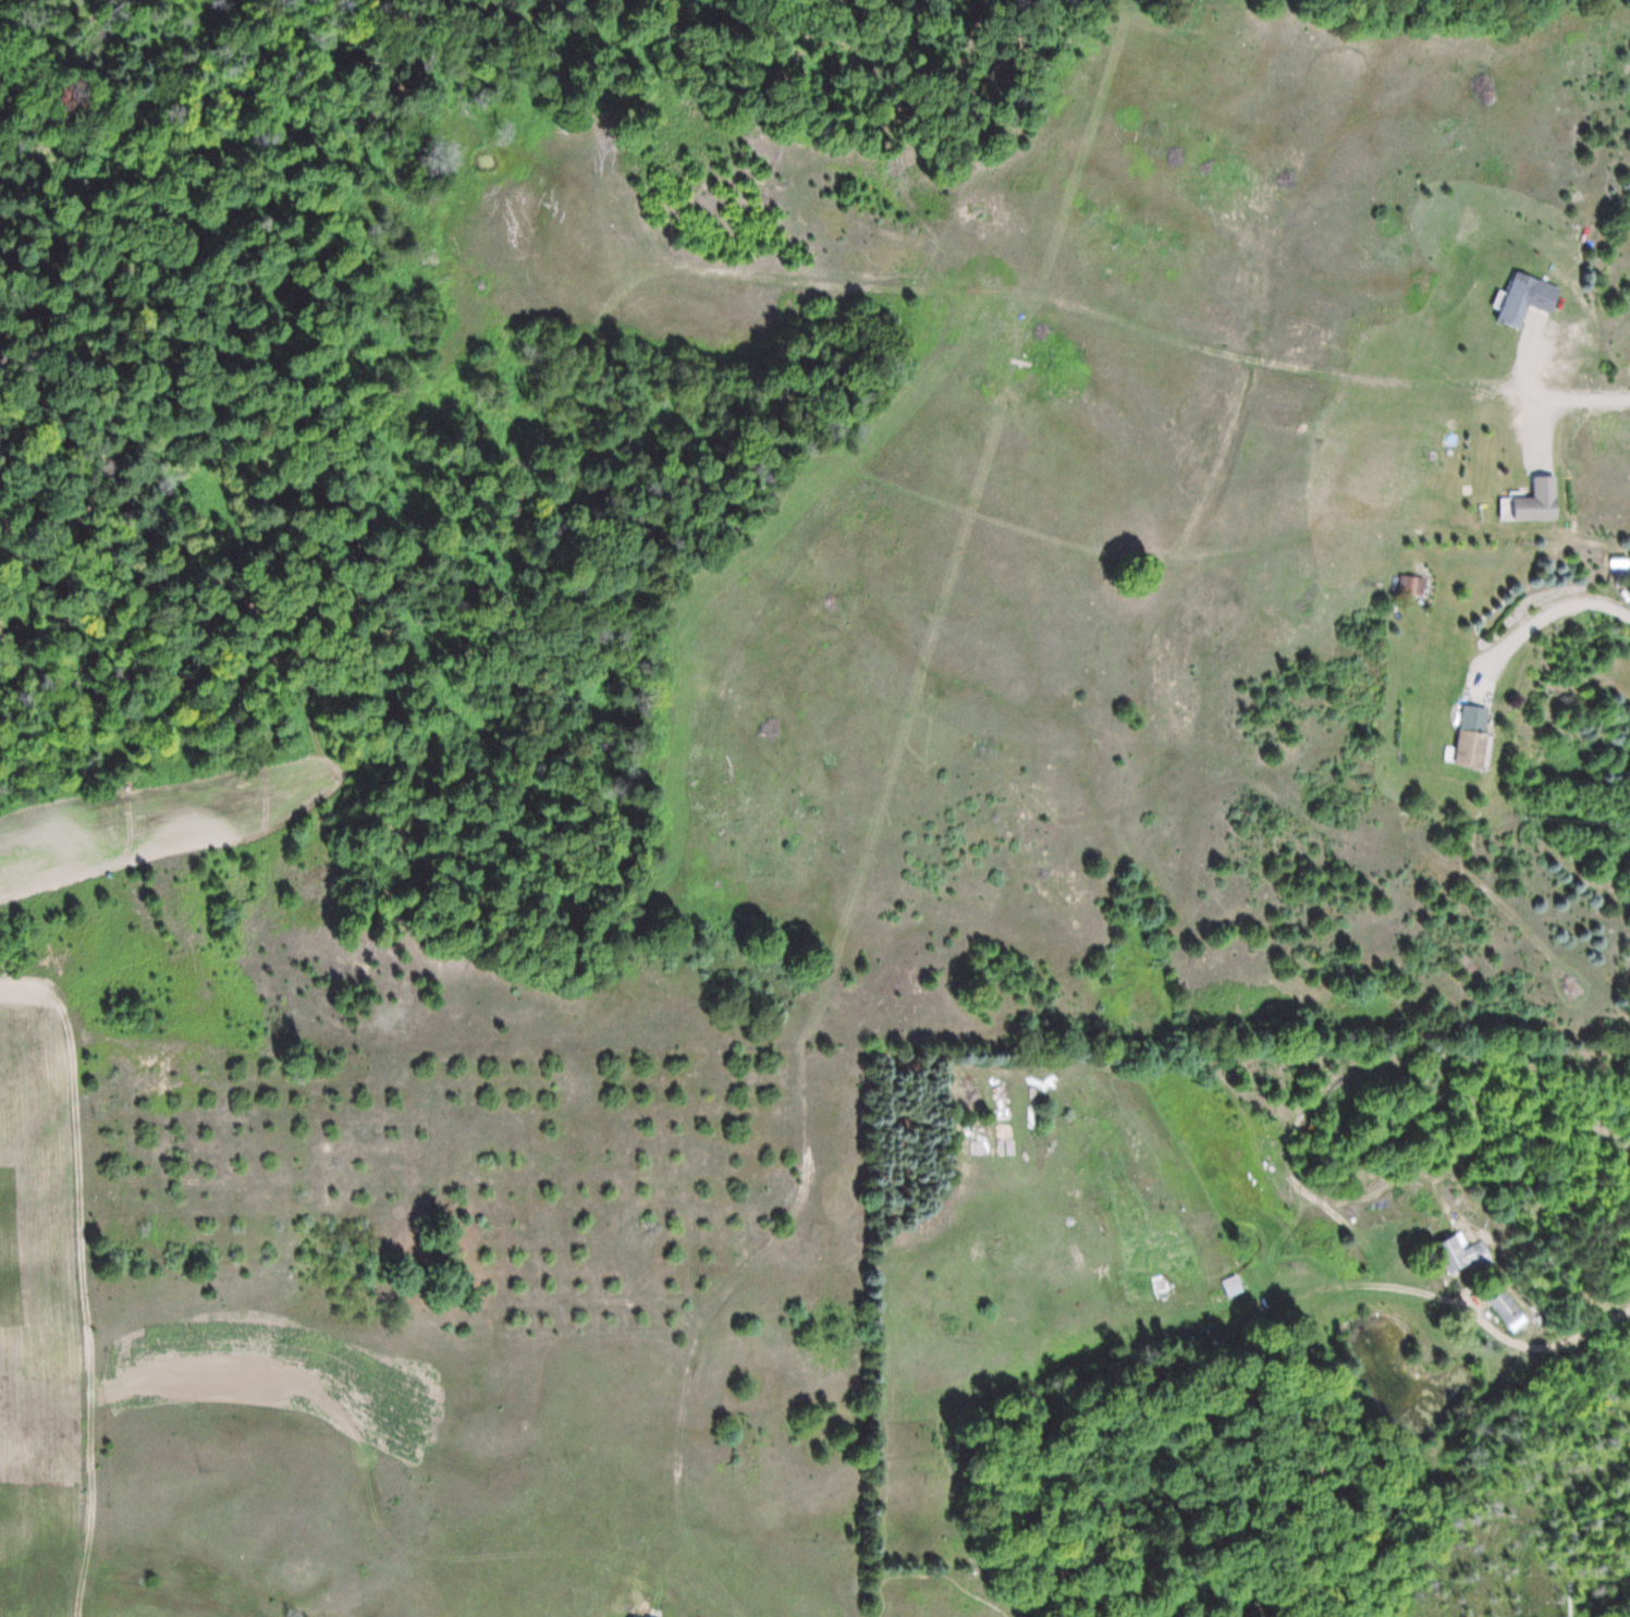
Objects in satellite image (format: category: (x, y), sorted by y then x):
building: (1527, 298)
building: (1533, 503)
building: (1410, 585)
building: (1473, 736)
building: (1462, 1254)
building: (1234, 1286)
building: (1505, 1307)
road: (1496, 1344)

